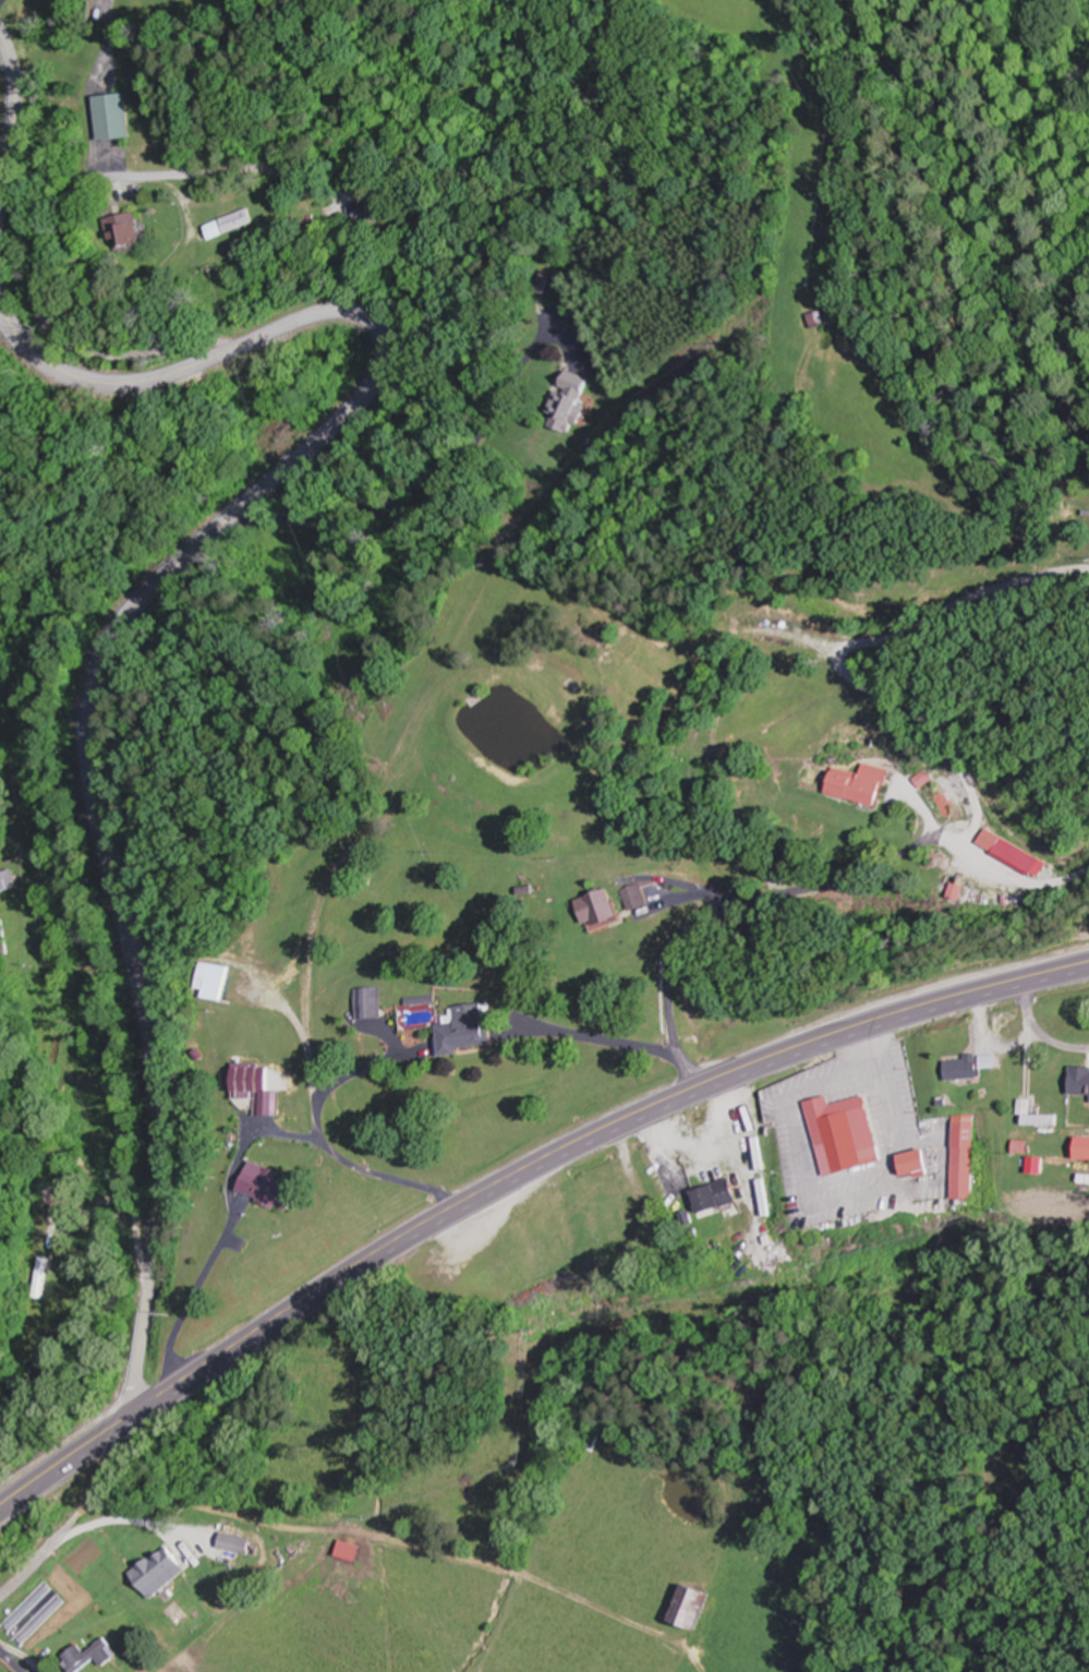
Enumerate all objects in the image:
building: (114, 117)
road: (11, 118)
building: (368, 209)
road: (61, 222)
building: (230, 222)
building: (129, 228)
building: (821, 318)
building: (569, 402)
road: (401, 484)
road: (136, 612)
building: (767, 630)
building: (862, 784)
road: (973, 806)
building: (1012, 852)
building: (8, 880)
building: (633, 897)
building: (999, 901)
building: (597, 907)
building: (219, 978)
building: (368, 1002)
building: (465, 1027)
building: (966, 1068)
building: (1081, 1081)
building: (254, 1092)
building: (1046, 1119)
building: (846, 1133)
building: (1085, 1147)
building: (970, 1156)
building: (920, 1162)
road: (513, 1174)
building: (273, 1188)
building: (55, 1190)
building: (610, 1191)
building: (718, 1195)
building: (661, 1242)
building: (40, 1277)
building: (235, 1542)
road: (32, 1568)
building: (159, 1572)
building: (693, 1607)
building: (89, 1656)

